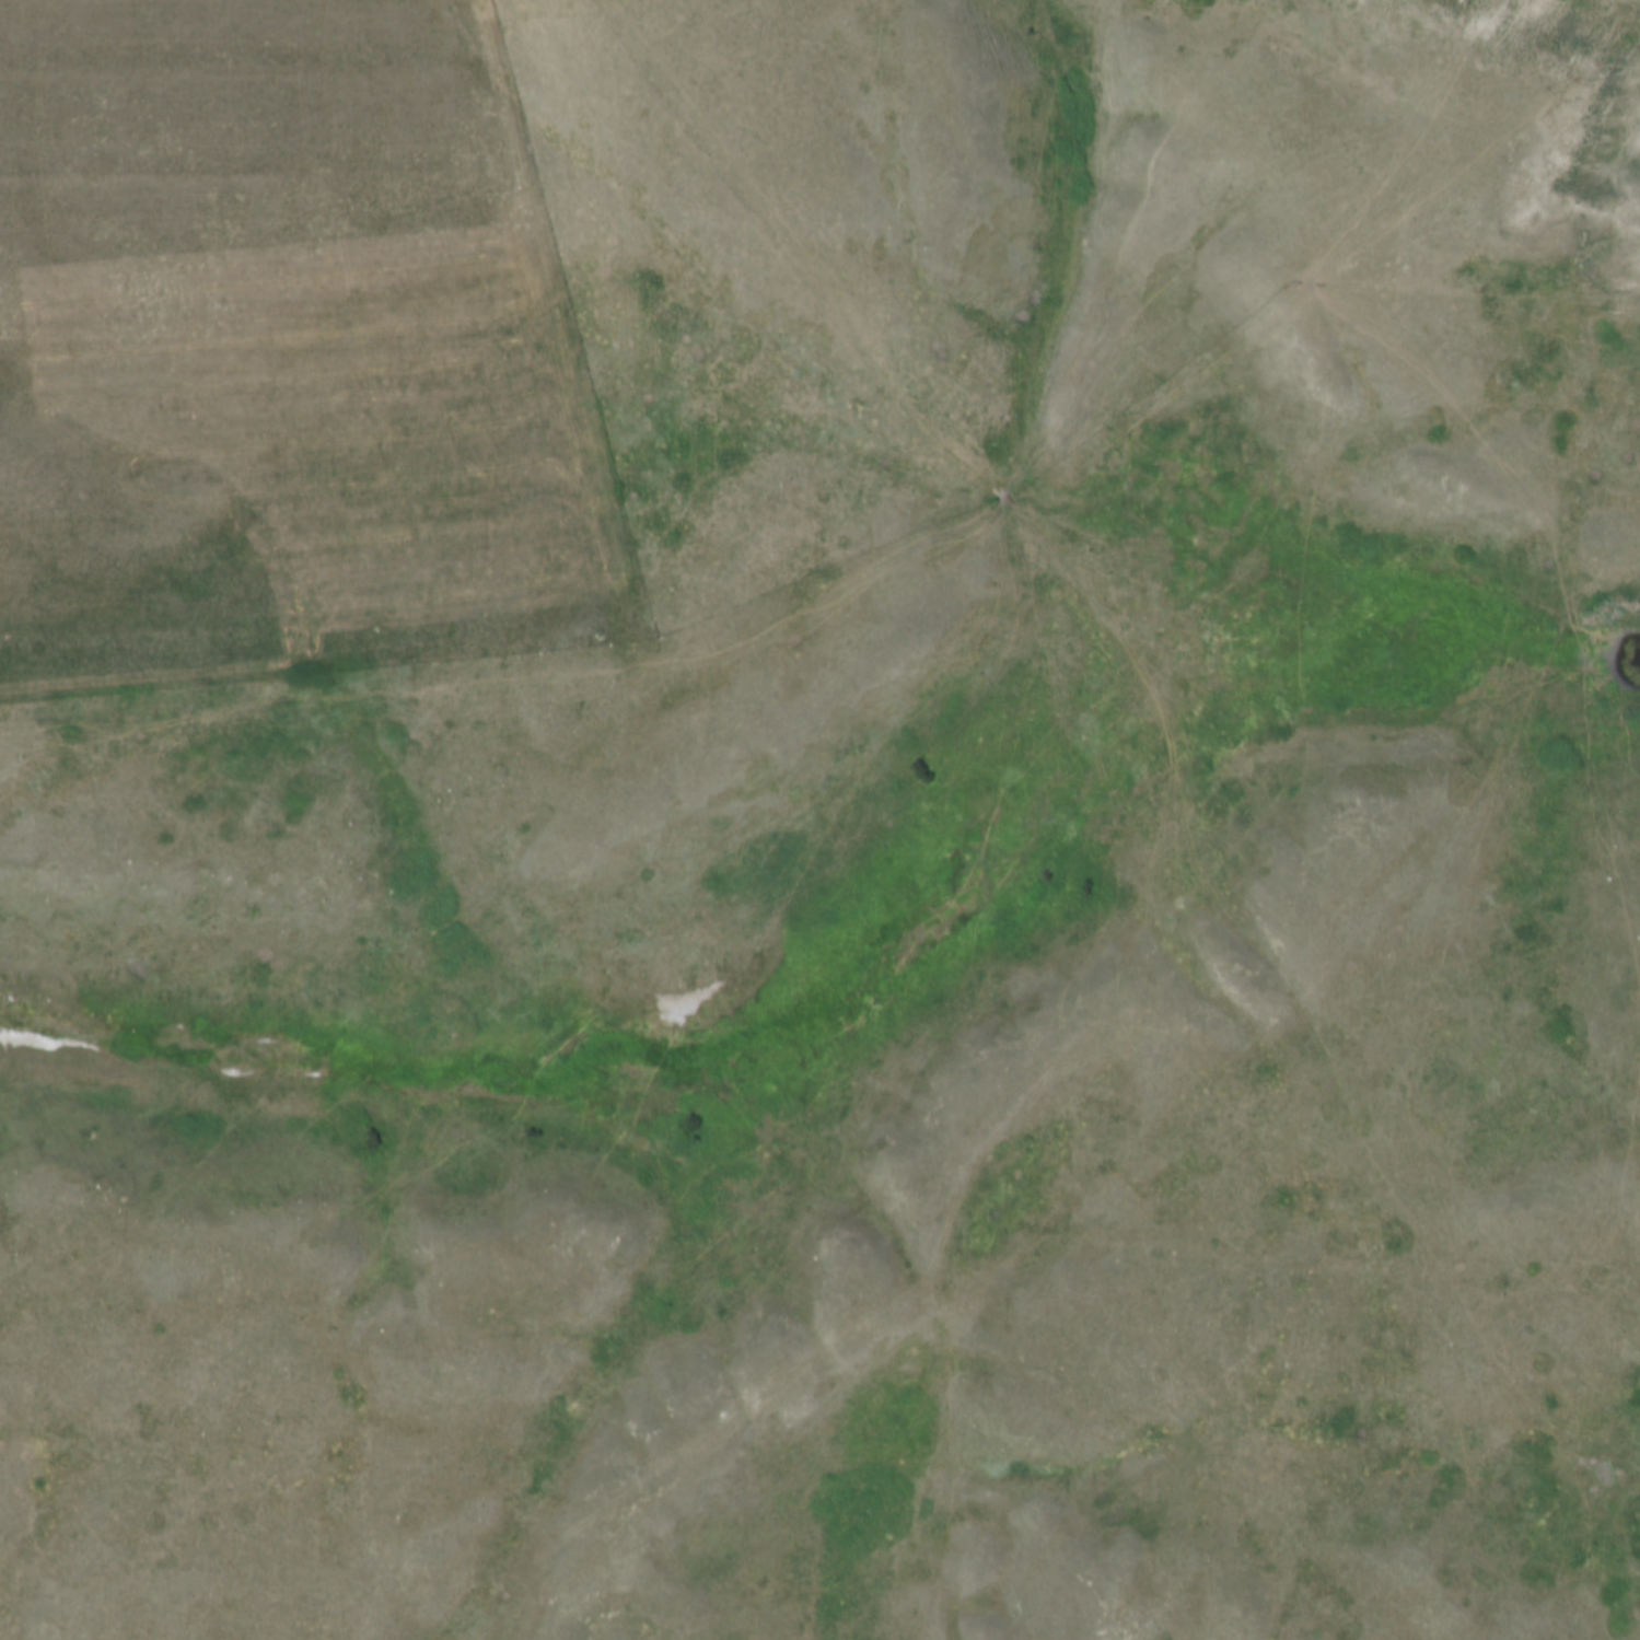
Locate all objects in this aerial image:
quarry: (1536, 19)

